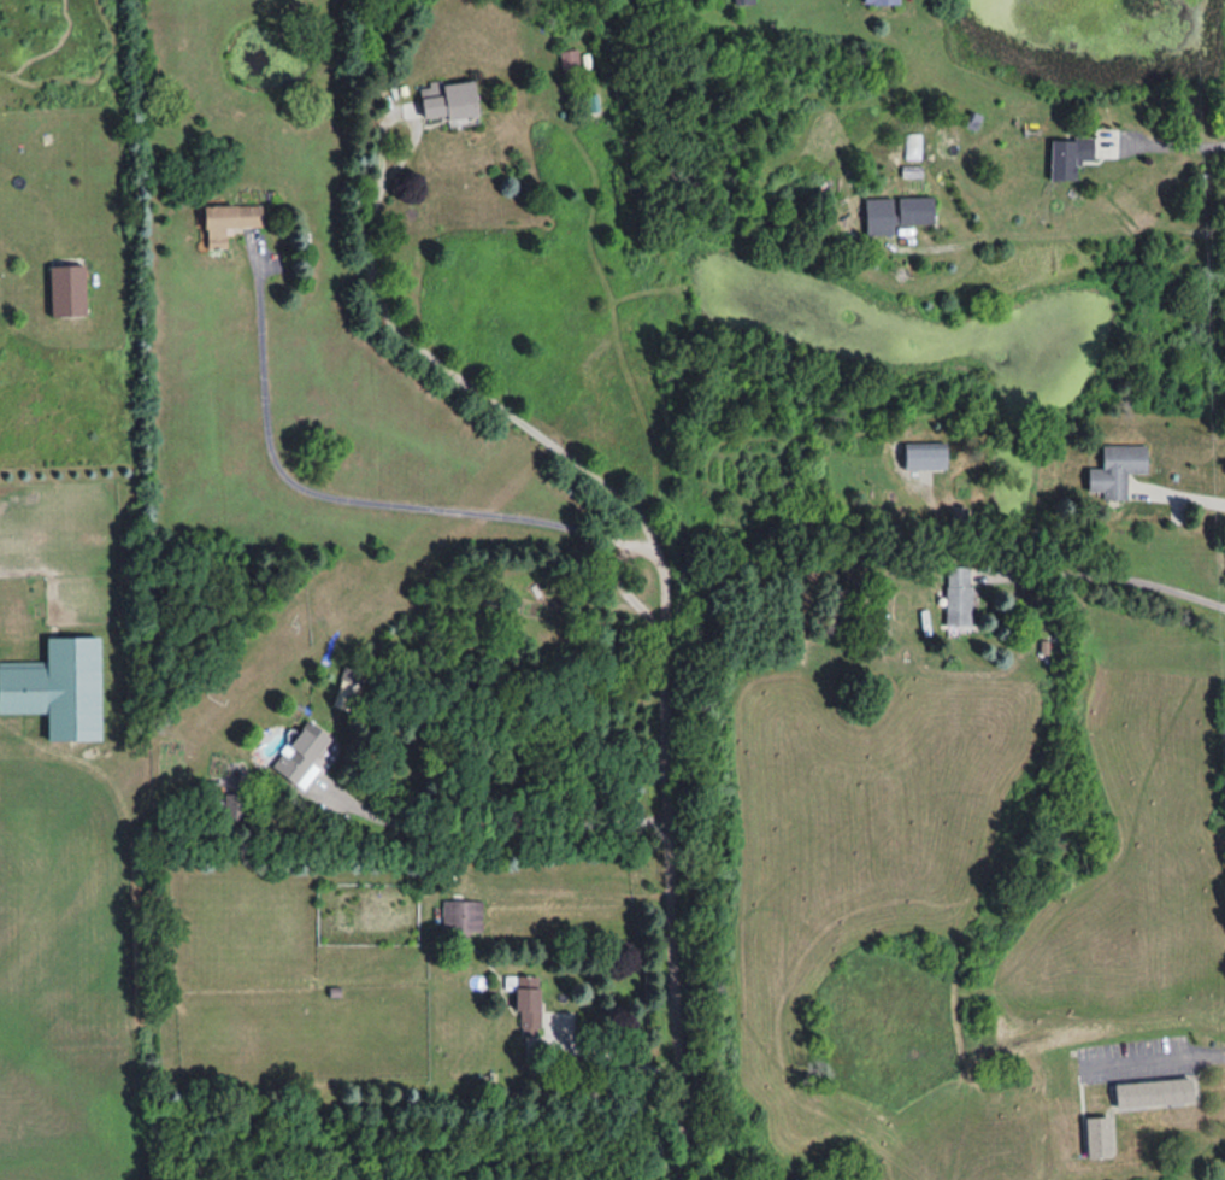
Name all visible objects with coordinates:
building: (744, 1)
building: (883, 1)
building: (571, 63)
building: (450, 100)
road: (1173, 141)
building: (1070, 155)
building: (917, 209)
building: (881, 215)
building: (230, 222)
road: (1060, 236)
building: (69, 290)
road: (449, 370)
building: (927, 458)
building: (1118, 469)
road: (1184, 489)
road: (363, 500)
road: (1108, 582)
building: (959, 595)
building: (24, 686)
building: (301, 751)
building: (235, 808)
road: (499, 826)
road: (670, 877)
building: (463, 916)
building: (529, 1005)
road: (1158, 1057)
road: (616, 1058)
building: (1155, 1092)
building: (1100, 1135)

